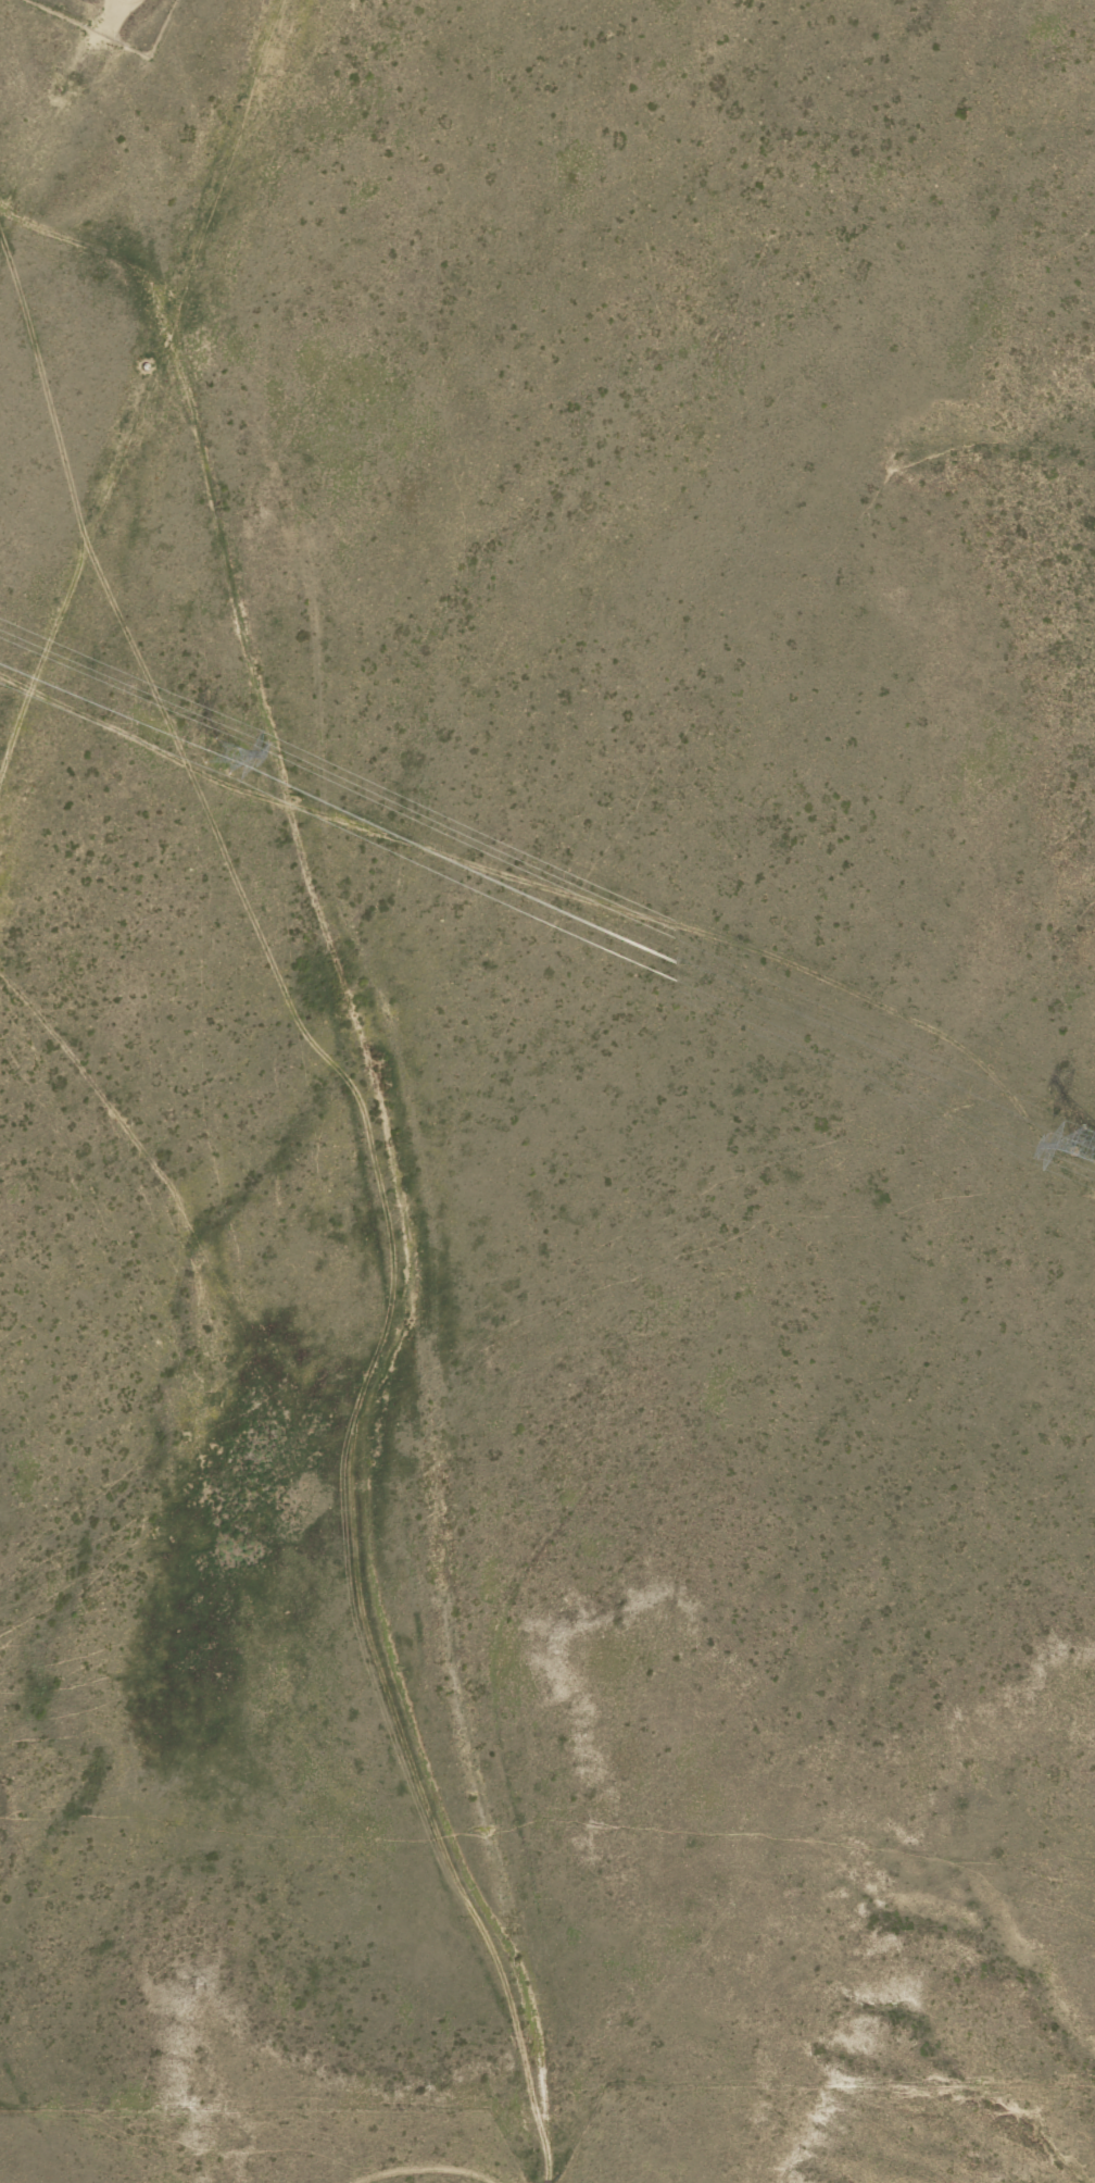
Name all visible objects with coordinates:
road: (62, 132)
power tower: (222, 754)
power tower: (1093, 1148)
road: (325, 1163)
road: (392, 2181)

